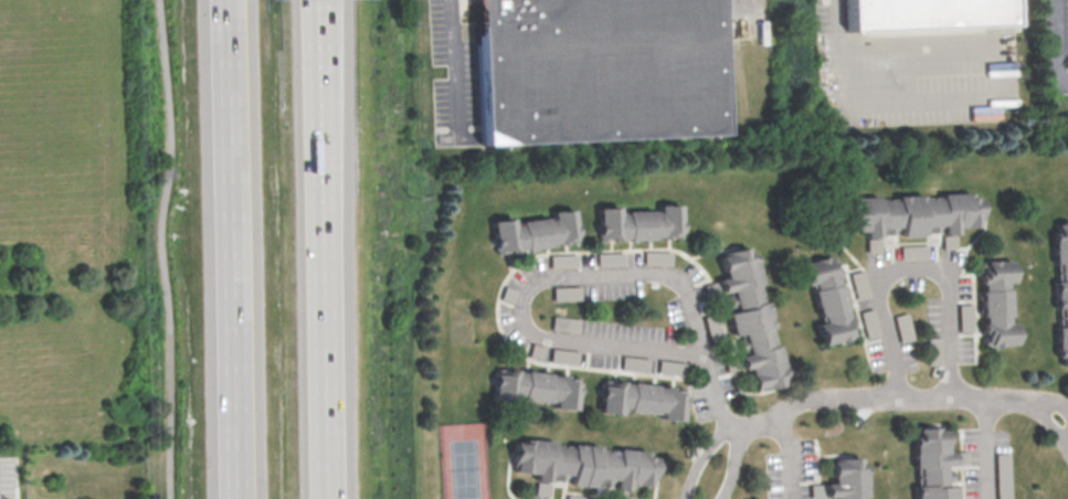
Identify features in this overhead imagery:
road: (734, 0)
building: (923, 14)
road: (836, 28)
road: (1056, 43)
road: (454, 66)
building: (593, 70)
road: (997, 98)
building: (911, 213)
building: (639, 222)
building: (532, 231)
road: (162, 248)
road: (230, 250)
road: (321, 250)
building: (911, 251)
building: (658, 256)
building: (611, 257)
building: (563, 259)
road: (910, 265)
road: (571, 274)
building: (857, 284)
building: (1061, 289)
building: (565, 293)
building: (826, 299)
building: (996, 302)
building: (964, 317)
building: (751, 318)
building: (712, 322)
building: (564, 323)
building: (868, 323)
building: (902, 327)
building: (933, 350)
building: (563, 354)
building: (635, 362)
building: (672, 367)
building: (533, 387)
road: (875, 396)
building: (639, 399)
road: (1044, 401)
road: (1046, 420)
road: (1066, 442)
road: (987, 448)
road: (793, 455)
park: (464, 458)
road: (702, 458)
building: (584, 463)
road: (733, 465)
building: (932, 466)
building: (1004, 477)
parking lot: (7, 479)
building: (847, 484)

